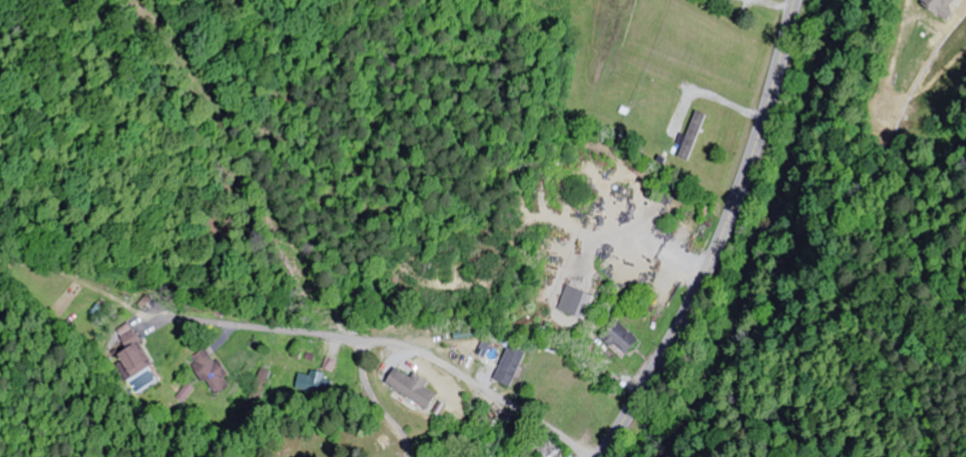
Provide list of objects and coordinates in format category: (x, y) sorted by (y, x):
building: (944, 6)
road: (368, 225)
road: (720, 238)
road: (813, 296)
building: (577, 302)
building: (622, 339)
building: (131, 351)
building: (329, 364)
building: (510, 366)
building: (211, 370)
building: (315, 381)
building: (400, 388)
building: (548, 447)

